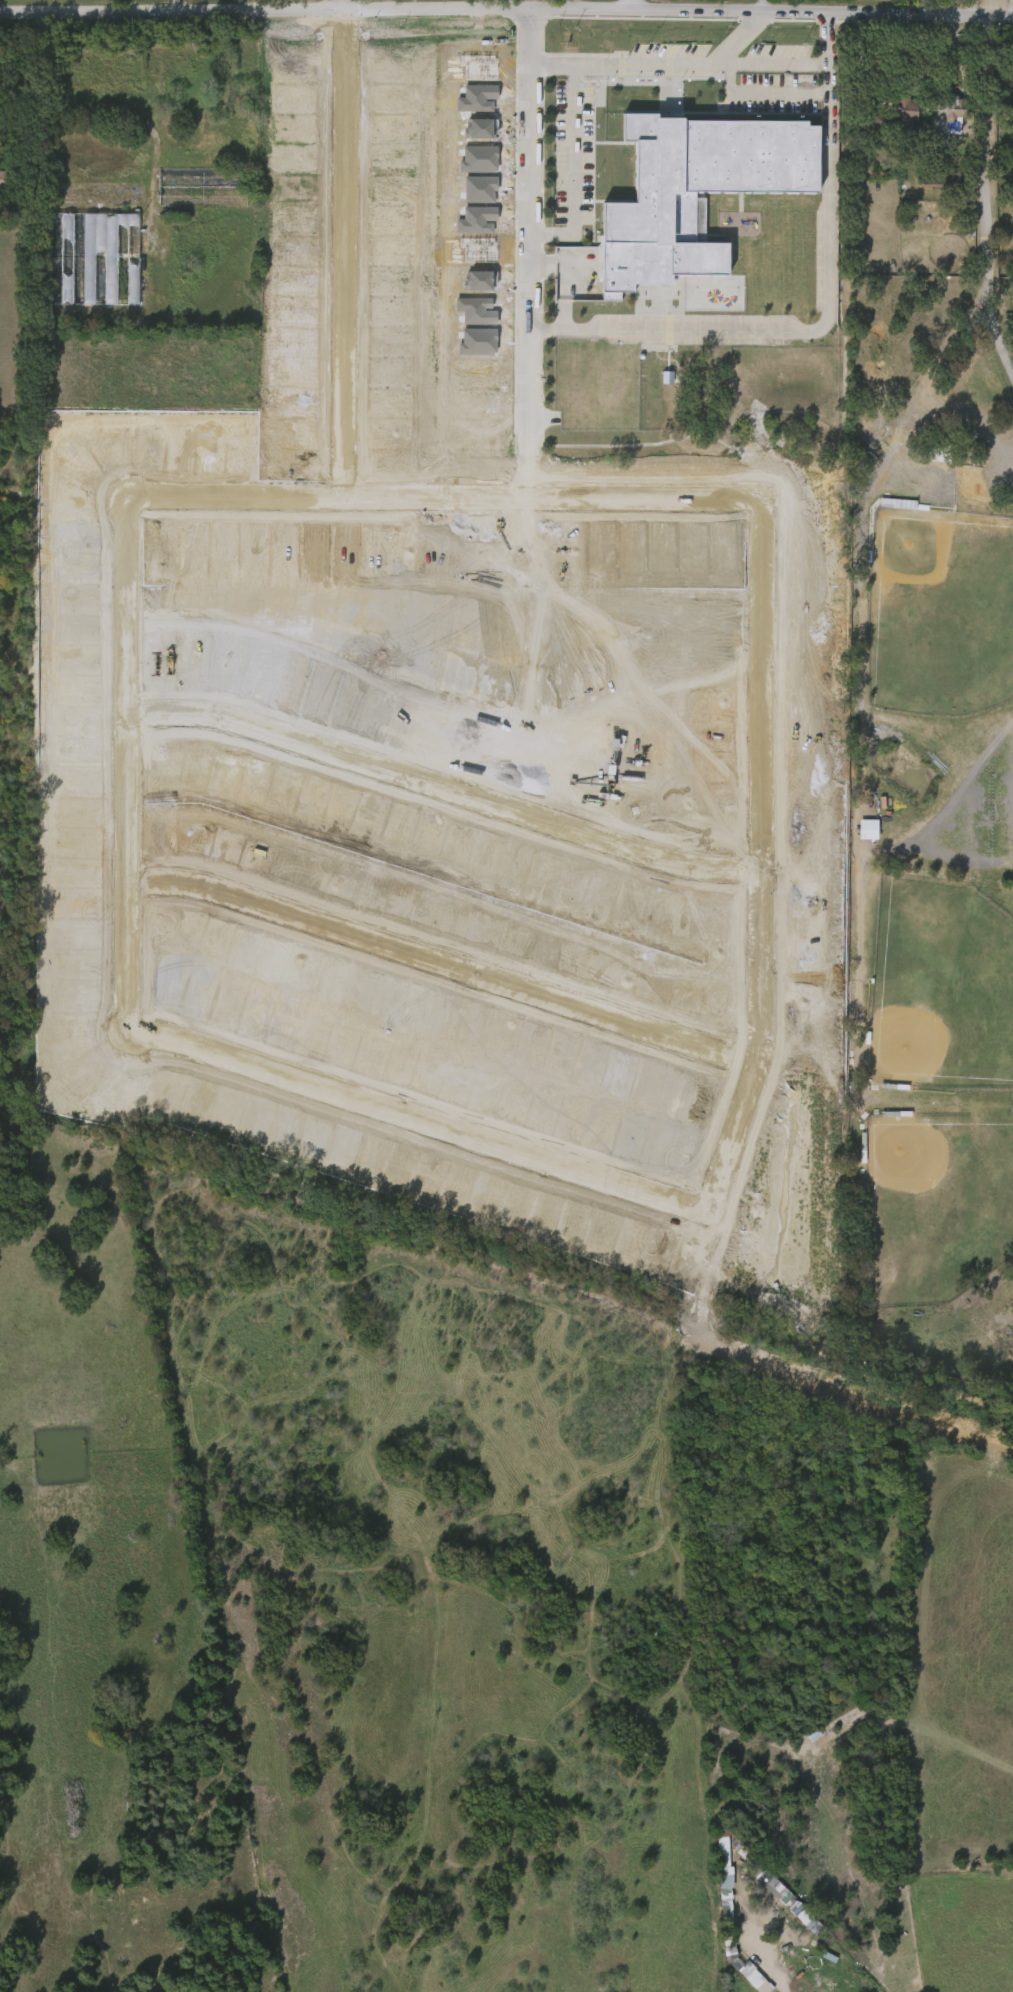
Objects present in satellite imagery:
road: (339, 6)
road: (645, 6)
road: (772, 7)
road: (506, 12)
road: (828, 39)
road: (652, 63)
road: (773, 63)
road: (863, 69)
building: (447, 74)
building: (435, 82)
road: (762, 93)
building: (899, 114)
building: (954, 115)
building: (894, 117)
road: (570, 169)
building: (5, 180)
building: (939, 180)
building: (202, 187)
road: (988, 191)
building: (683, 197)
building: (967, 217)
road: (526, 229)
road: (338, 254)
building: (93, 258)
road: (807, 333)
building: (446, 393)
road: (439, 785)
road: (438, 957)
road: (442, 1123)
building: (713, 1881)
building: (781, 1909)
road: (773, 1980)

